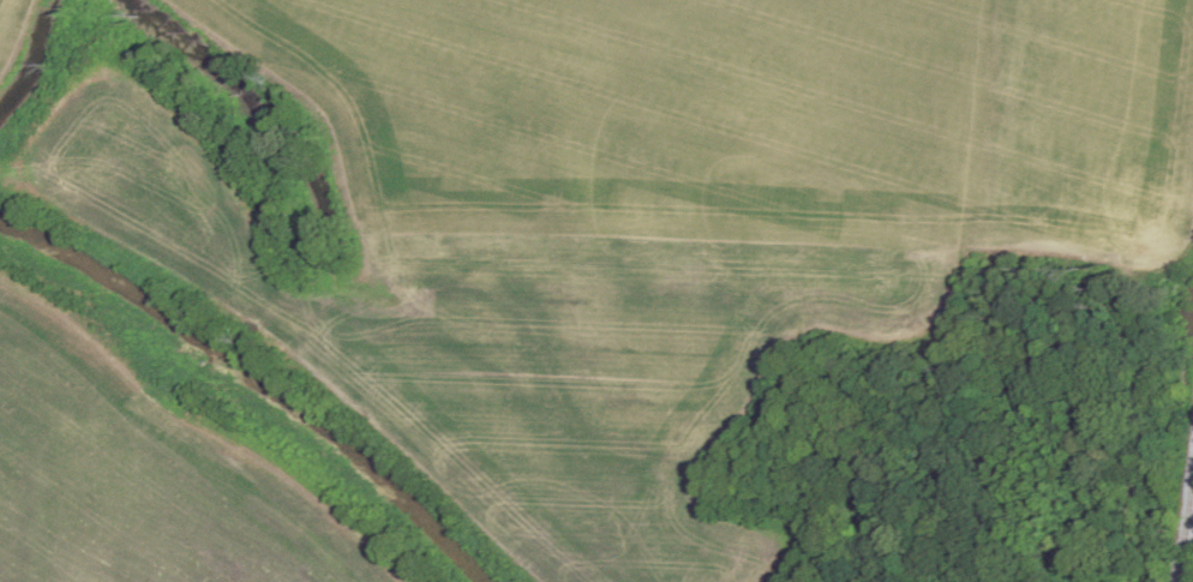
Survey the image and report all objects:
railway: (1186, 532)

